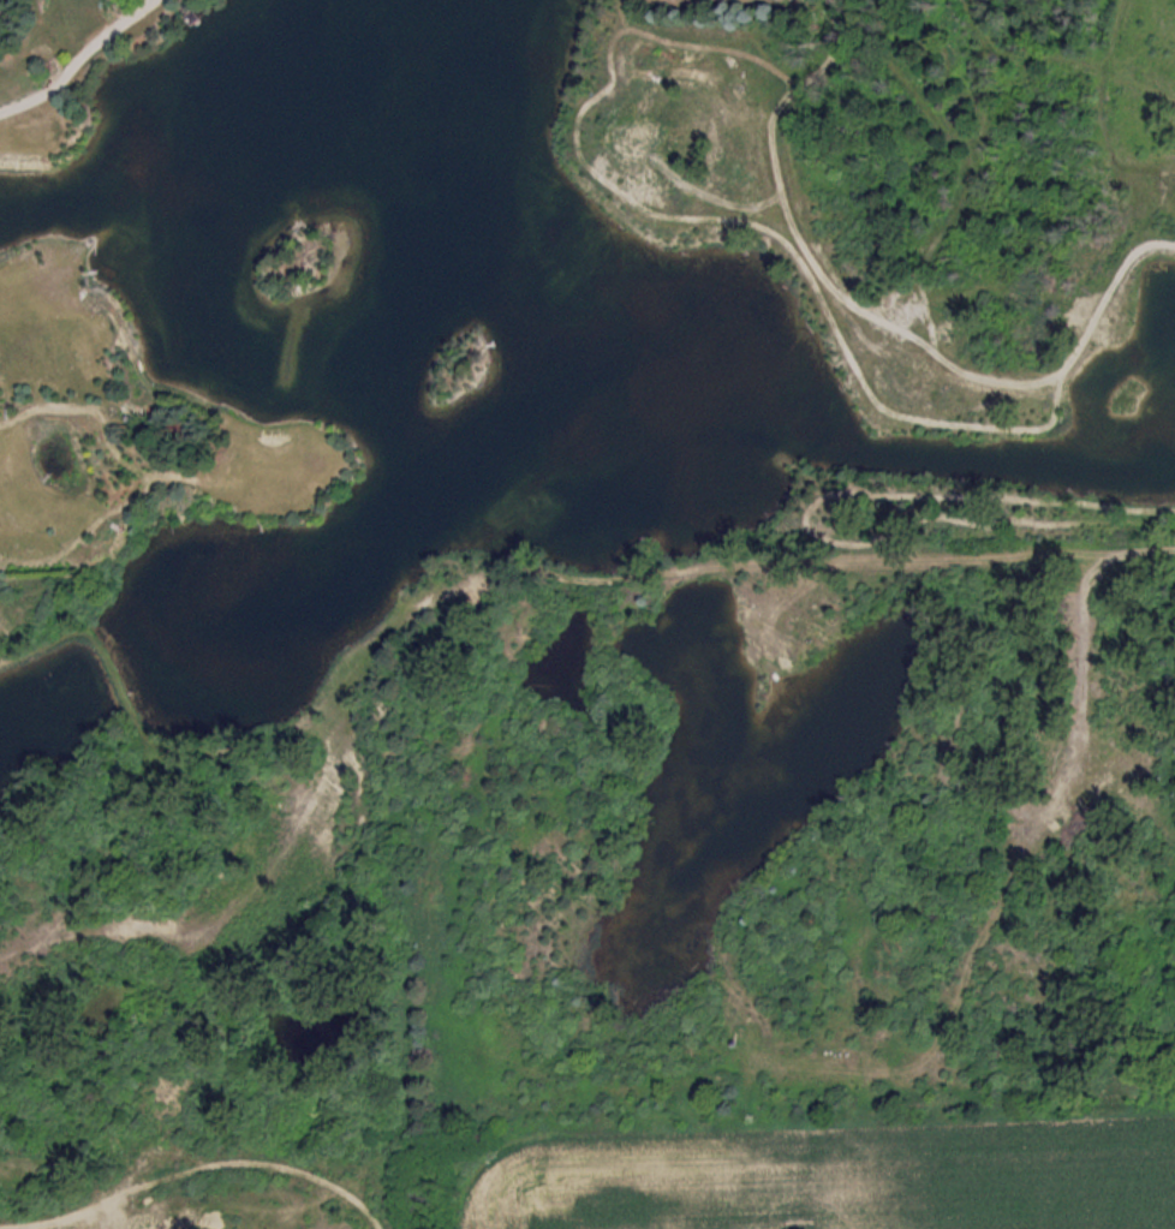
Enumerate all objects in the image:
road: (112, 666)

